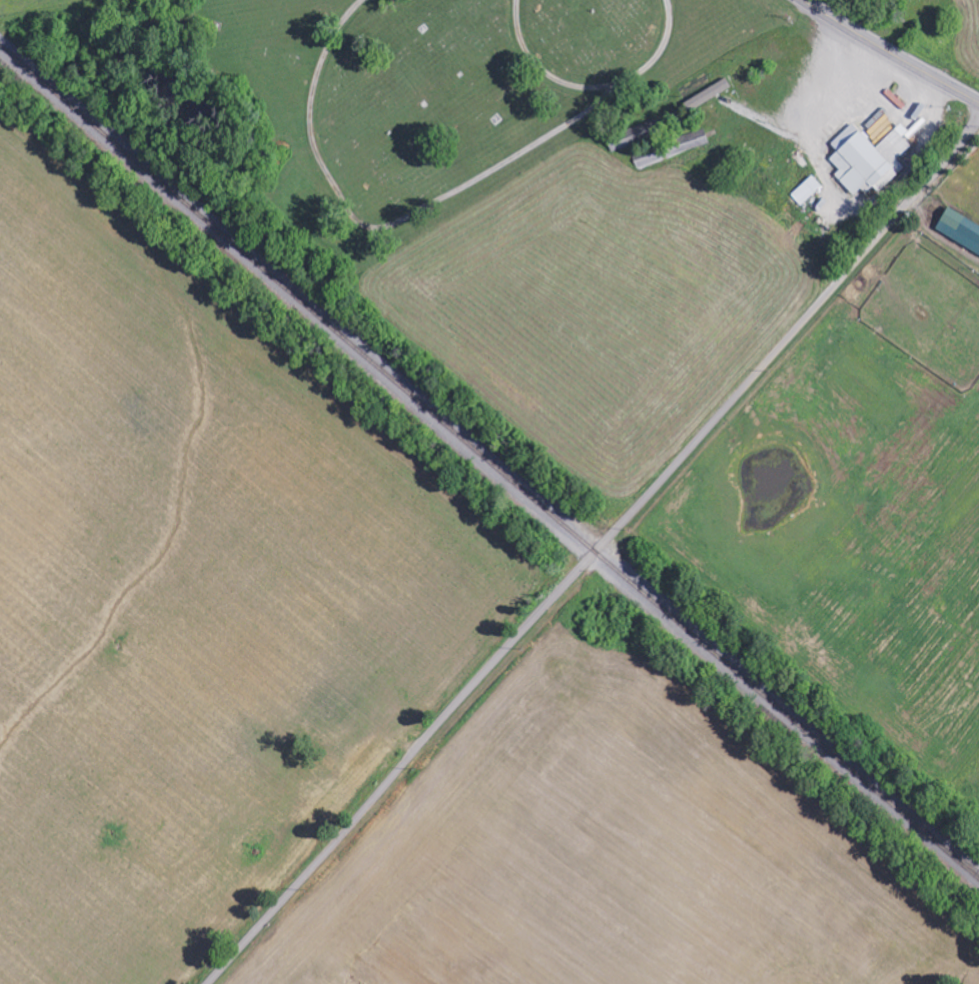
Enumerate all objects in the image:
road: (890, 52)
building: (708, 94)
building: (869, 158)
building: (807, 190)
building: (960, 229)
railway: (489, 460)
road: (593, 550)
railway: (953, 851)

